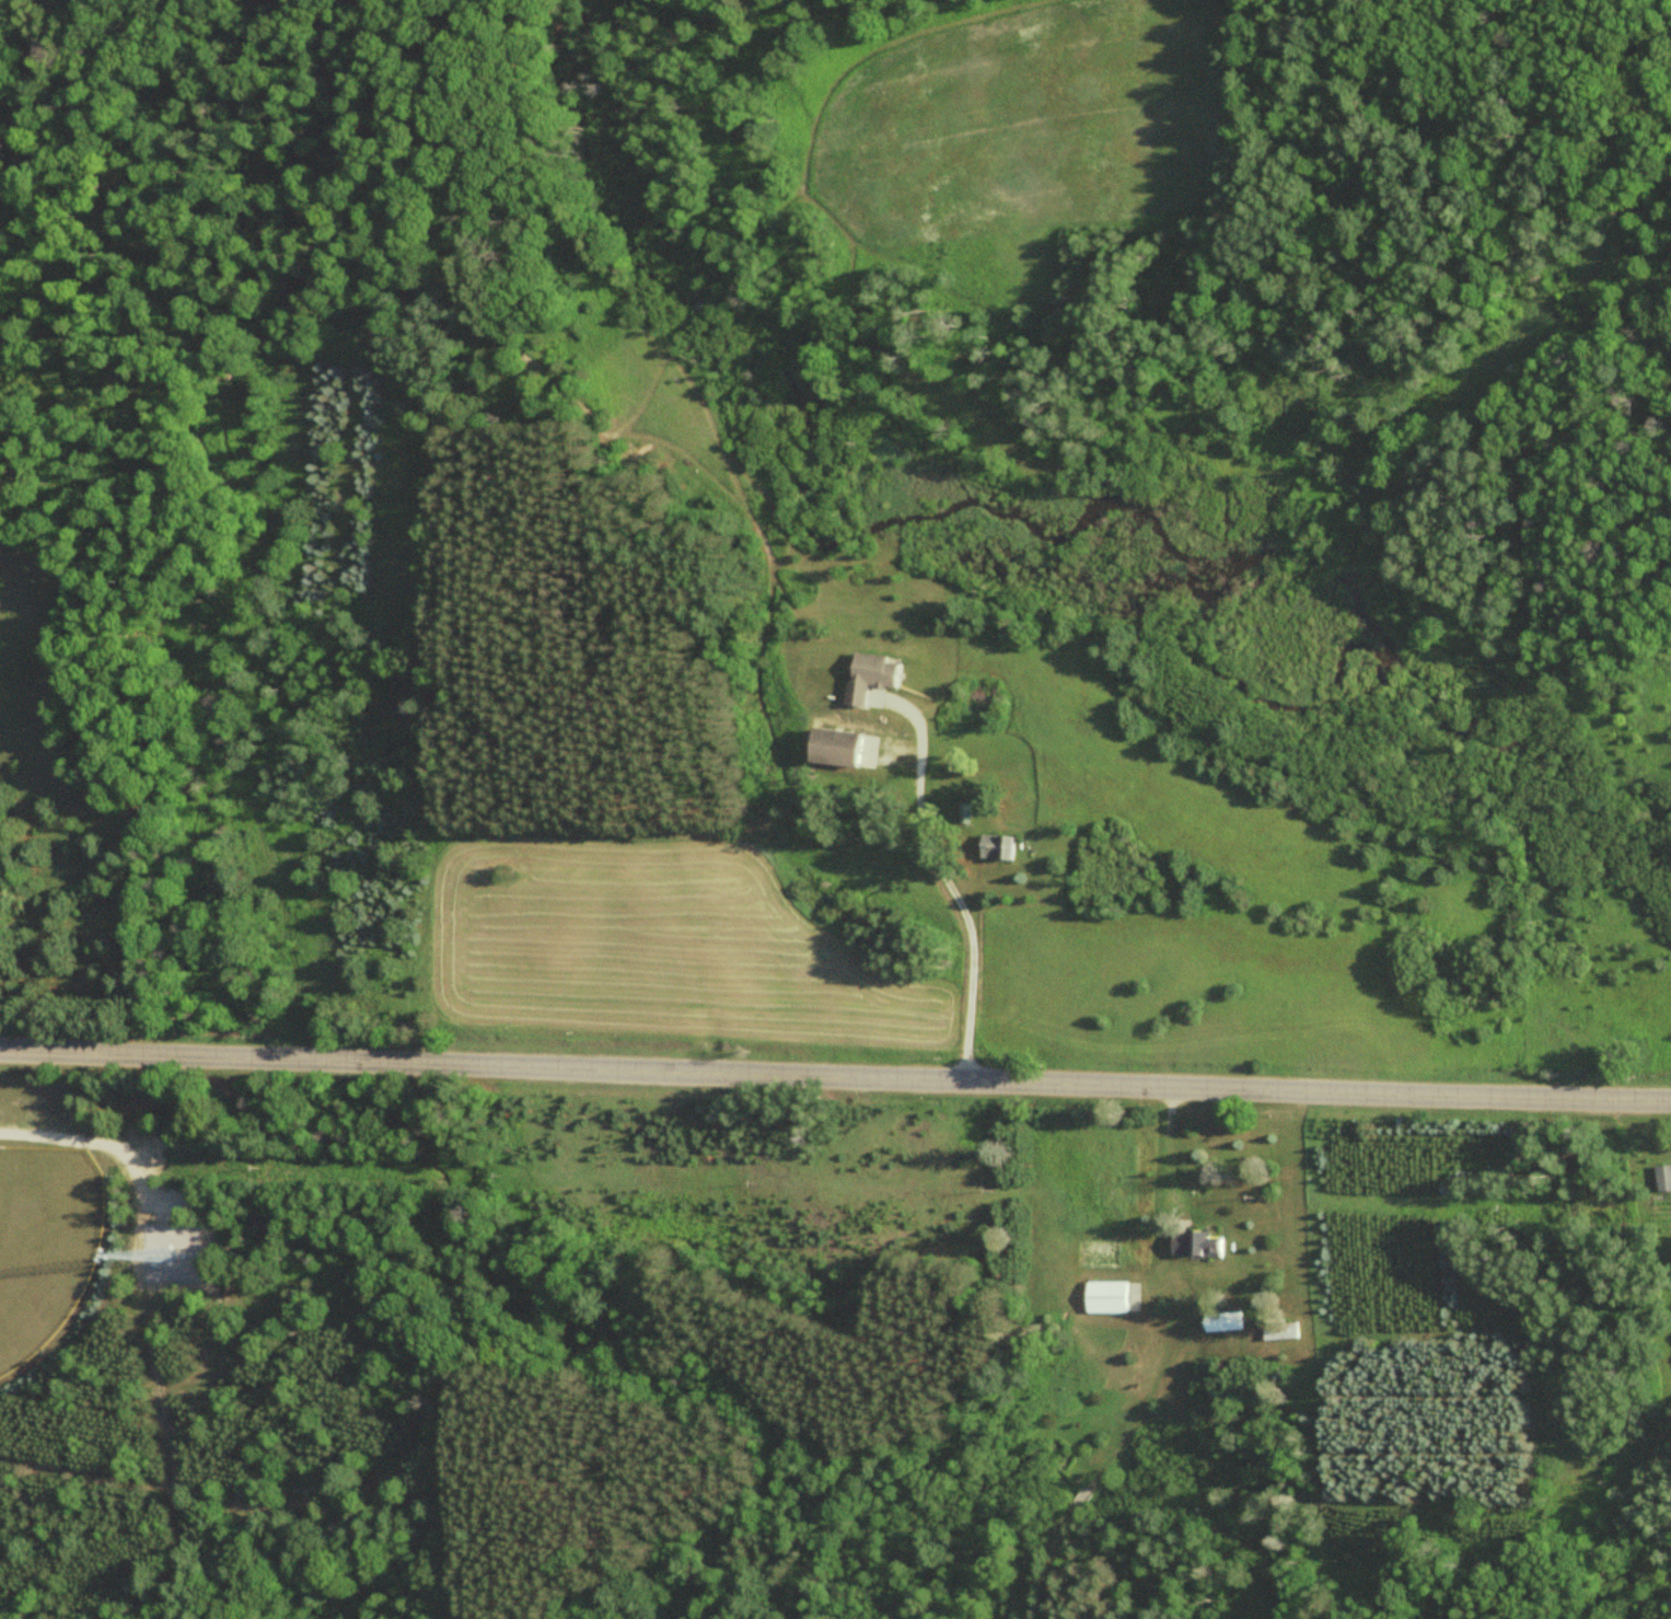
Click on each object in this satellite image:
building: (844, 747)
building: (965, 811)
building: (1001, 846)
road: (835, 1075)
building: (1576, 1143)
building: (1664, 1176)
park: (45, 1240)
building: (1202, 1240)
building: (1115, 1295)
building: (1228, 1320)
building: (1284, 1330)
building: (1080, 1497)

